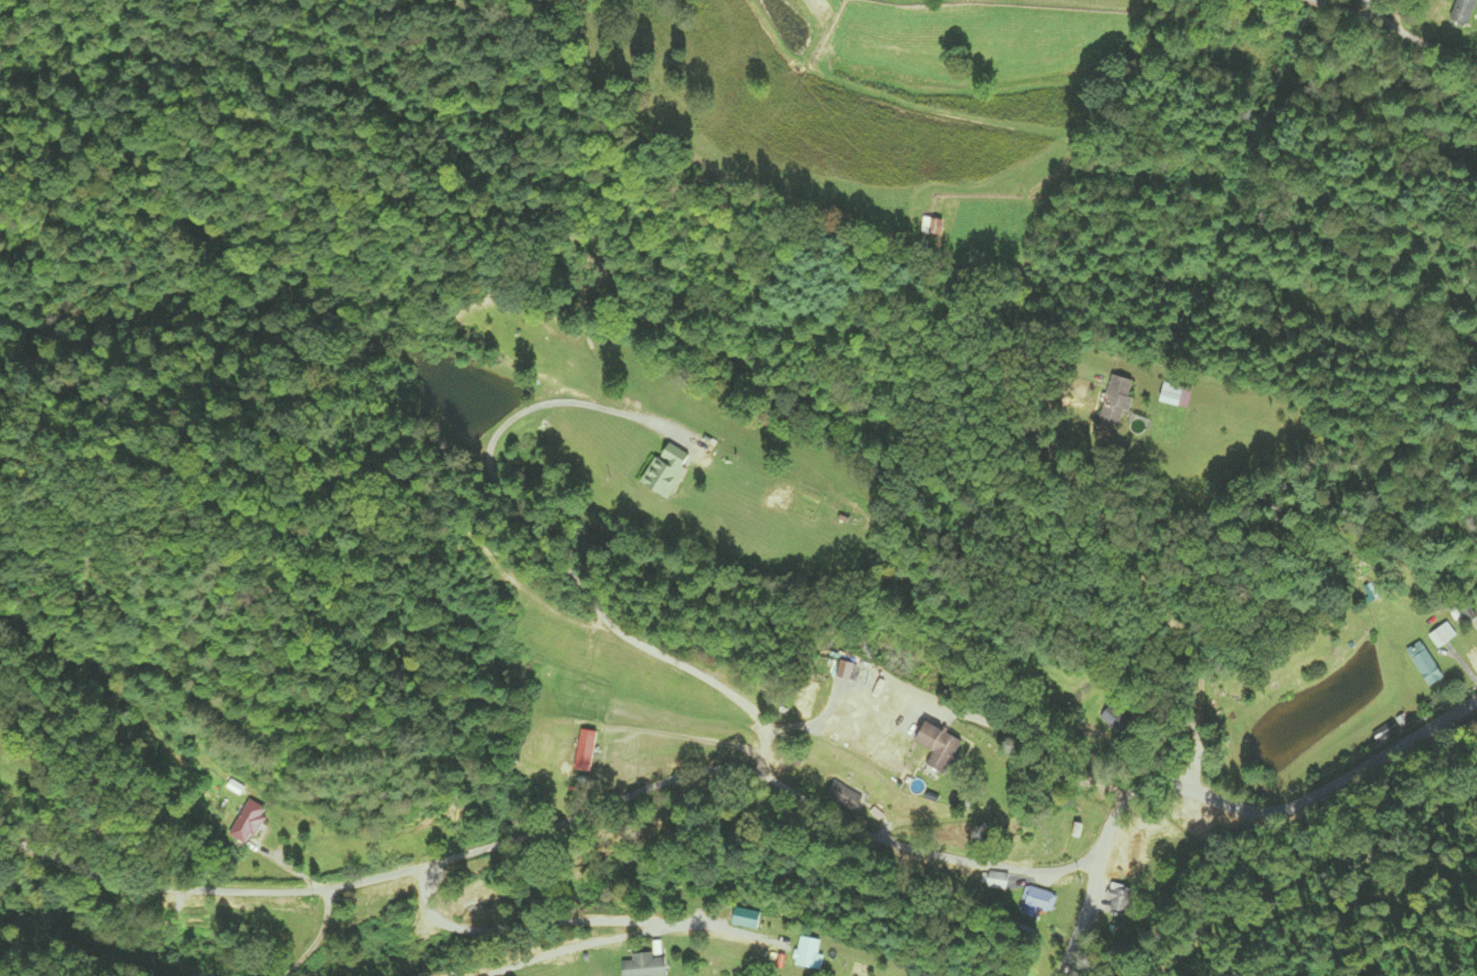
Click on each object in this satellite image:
road: (1349, 8)
road: (1368, 8)
building: (1460, 13)
road: (1423, 42)
crop: (888, 100)
building: (1169, 394)
building: (1114, 402)
building: (659, 475)
road: (1156, 582)
building: (1476, 618)
building: (1442, 636)
building: (1424, 665)
building: (1111, 717)
building: (933, 747)
building: (583, 751)
road: (1219, 801)
building: (247, 823)
road: (559, 826)
building: (999, 881)
building: (1119, 900)
building: (1035, 902)
building: (743, 919)
building: (805, 954)
building: (642, 966)

